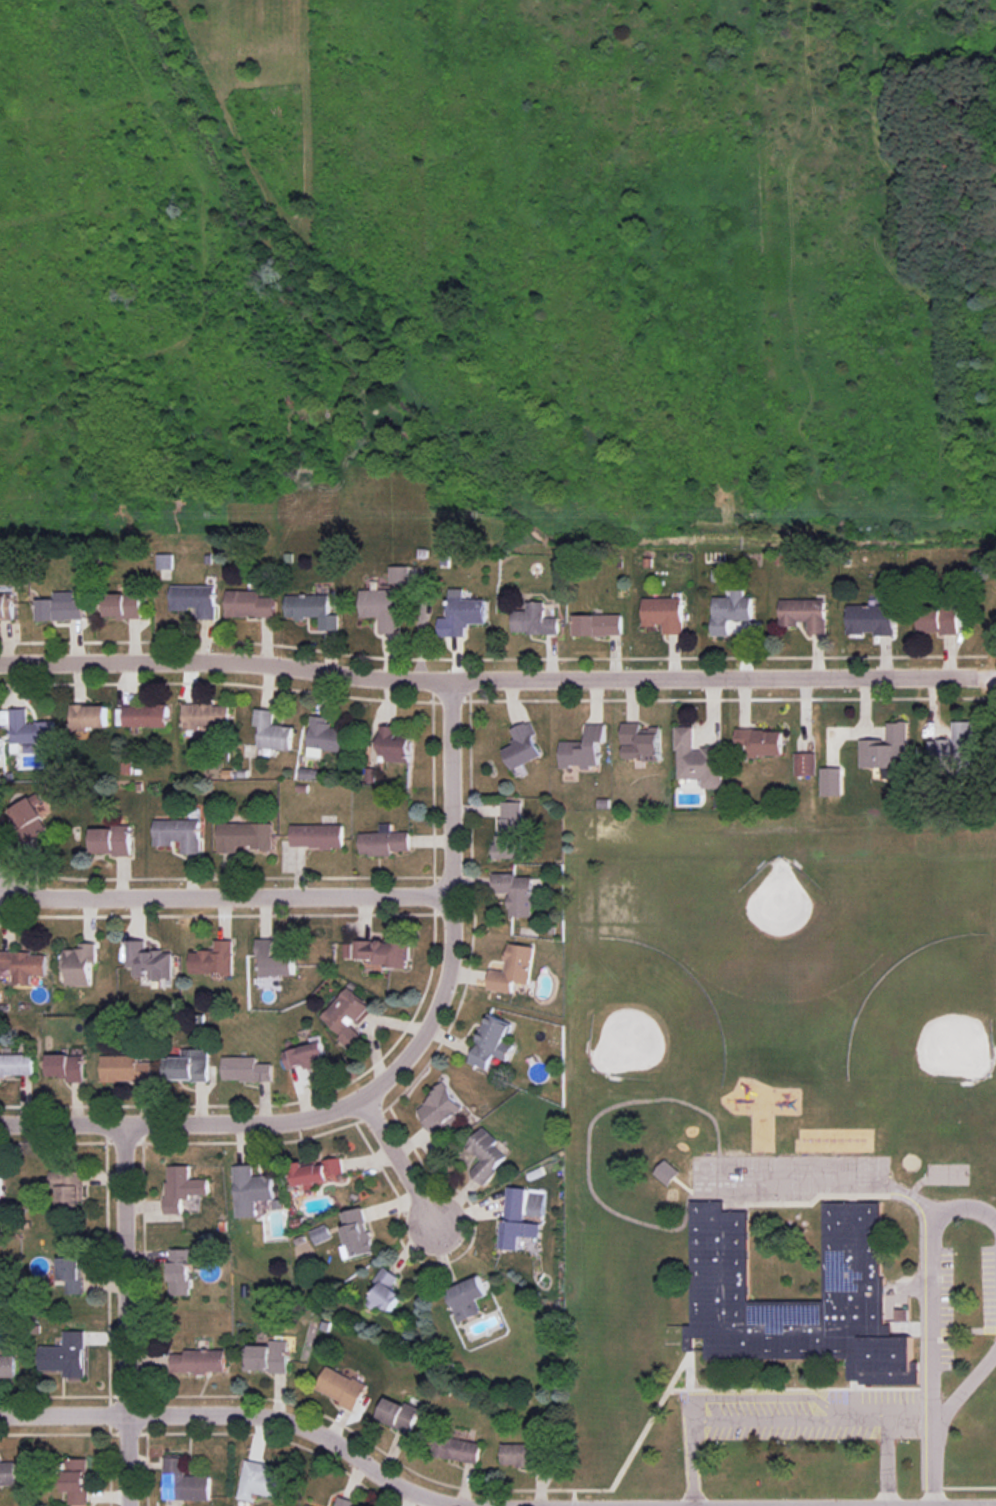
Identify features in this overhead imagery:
building: (164, 561)
building: (399, 574)
building: (194, 599)
building: (123, 604)
building: (249, 604)
building: (6, 606)
building: (381, 608)
building: (59, 609)
building: (312, 609)
building: (730, 611)
building: (664, 613)
building: (462, 614)
building: (805, 614)
building: (940, 615)
building: (871, 619)
building: (534, 620)
building: (598, 625)
road: (497, 677)
building: (145, 715)
building: (205, 715)
building: (89, 716)
building: (26, 727)
building: (271, 731)
building: (324, 736)
building: (761, 741)
building: (641, 742)
building: (392, 744)
building: (522, 746)
building: (583, 748)
building: (953, 748)
building: (888, 752)
building: (698, 760)
building: (805, 764)
building: (832, 781)
building: (30, 817)
building: (509, 831)
building: (179, 834)
building: (243, 836)
building: (316, 836)
building: (111, 840)
building: (383, 841)
building: (516, 892)
road: (224, 894)
building: (380, 951)
building: (213, 959)
building: (149, 960)
building: (274, 960)
building: (80, 963)
building: (24, 965)
building: (513, 968)
building: (346, 1016)
building: (492, 1041)
building: (306, 1056)
building: (16, 1064)
building: (191, 1065)
building: (67, 1066)
building: (125, 1068)
road: (392, 1068)
building: (246, 1069)
building: (440, 1109)
building: (486, 1154)
road: (402, 1161)
building: (318, 1172)
building: (668, 1172)
building: (1, 1187)
building: (182, 1187)
building: (68, 1188)
building: (251, 1190)
building: (516, 1220)
building: (356, 1233)
building: (320, 1234)
building: (854, 1255)
building: (180, 1271)
building: (71, 1273)
building: (386, 1290)
building: (467, 1298)
road: (126, 1314)
road: (935, 1317)
building: (65, 1355)
building: (267, 1357)
building: (200, 1361)
building: (7, 1366)
building: (341, 1387)
road: (966, 1395)
road: (251, 1414)
building: (398, 1414)
road: (791, 1428)
building: (457, 1449)
building: (521, 1454)
road: (934, 1467)
building: (8, 1472)
building: (76, 1480)
building: (259, 1481)
building: (184, 1482)
building: (345, 1502)
building: (309, 1505)

